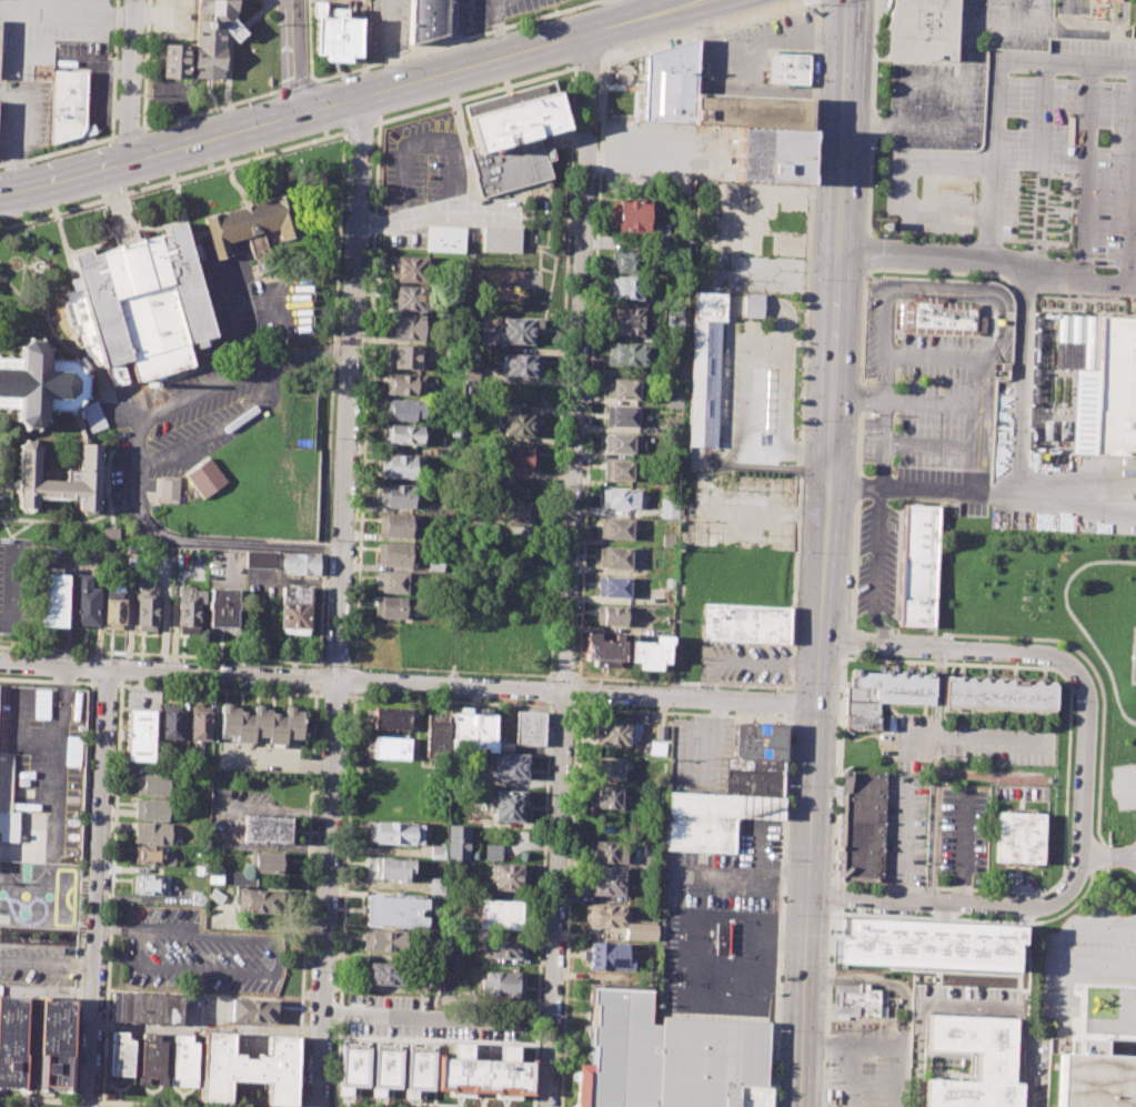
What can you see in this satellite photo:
building: (1117, 0)
street lamp: (875, 6)
parking lot: (496, 11)
road: (616, 11)
road: (68, 14)
building: (425, 19)
street lamp: (530, 23)
parking lot: (386, 27)
street lamp: (694, 27)
road: (701, 29)
building: (922, 29)
road: (1021, 29)
parking lot: (44, 32)
street lamp: (721, 33)
building: (212, 36)
road: (453, 36)
building: (336, 37)
road: (310, 39)
street lamp: (874, 39)
road: (455, 40)
road: (390, 43)
road: (754, 44)
road: (14, 48)
road: (531, 48)
road: (296, 56)
building: (174, 61)
road: (946, 61)
road: (587, 62)
road: (145, 64)
street lamp: (380, 66)
building: (784, 67)
road: (120, 68)
street lamp: (600, 68)
road: (114, 69)
street lamp: (543, 70)
street lamp: (876, 74)
parking lot: (88, 76)
parking lot: (963, 76)
road: (104, 79)
road: (133, 80)
street lamp: (278, 82)
road: (911, 82)
building: (668, 83)
road: (294, 84)
road: (750, 88)
street lamp: (887, 89)
road: (997, 89)
road: (473, 94)
street lamp: (247, 102)
building: (68, 105)
road: (329, 105)
street lamp: (913, 105)
street lamp: (947, 107)
road: (209, 110)
street lamp: (876, 110)
building: (748, 111)
street lamp: (391, 112)
road: (872, 113)
parking lot: (24, 115)
street lamp: (139, 115)
road: (962, 124)
road: (359, 128)
road: (18, 132)
road: (129, 132)
building: (513, 135)
street lamp: (105, 142)
street lamp: (345, 142)
street lamp: (869, 149)
street lamp: (259, 150)
road: (59, 151)
building: (767, 153)
road: (149, 154)
road: (1037, 170)
parking lot: (1062, 170)
road: (1086, 171)
road: (172, 180)
road: (173, 182)
parking lot: (440, 182)
road: (899, 185)
street lamp: (808, 188)
street lamp: (118, 189)
road: (469, 193)
road: (114, 198)
road: (1134, 210)
road: (54, 215)
building: (634, 215)
road: (120, 218)
road: (170, 223)
building: (252, 223)
road: (0, 228)
street lamp: (879, 235)
street lamp: (926, 235)
building: (444, 239)
building: (500, 239)
road: (127, 242)
road: (80, 249)
road: (867, 250)
road: (988, 255)
building: (630, 261)
building: (411, 269)
street lamp: (879, 275)
street lamp: (806, 279)
street lamp: (864, 282)
street lamp: (869, 284)
building: (629, 286)
road: (949, 294)
building: (409, 299)
road: (11, 302)
building: (139, 305)
building: (752, 306)
building: (942, 315)
road: (710, 316)
building: (676, 318)
building: (627, 321)
building: (406, 326)
building: (511, 331)
road: (71, 351)
building: (627, 354)
road: (931, 354)
building: (406, 355)
building: (86, 362)
building: (521, 364)
road: (592, 368)
building: (707, 368)
road: (562, 371)
building: (674, 371)
road: (885, 374)
parking lot: (207, 378)
street lamp: (934, 380)
street lamp: (864, 381)
building: (40, 383)
chimney: (151, 384)
building: (405, 385)
building: (624, 388)
building: (1120, 388)
road: (366, 394)
road: (856, 395)
road: (331, 397)
building: (673, 400)
road: (928, 401)
building: (403, 410)
building: (622, 415)
building: (89, 417)
street lamp: (801, 420)
building: (515, 424)
building: (672, 425)
road: (972, 425)
road: (210, 431)
building: (406, 434)
building: (621, 442)
road: (882, 442)
road: (926, 443)
road: (798, 451)
building: (516, 457)
road: (132, 463)
road: (8, 465)
building: (404, 466)
building: (619, 470)
building: (204, 477)
building: (59, 480)
road: (1016, 484)
building: (168, 489)
building: (399, 495)
building: (620, 499)
building: (666, 506)
building: (514, 511)
road: (100, 515)
road: (1074, 515)
road: (0, 517)
road: (2, 523)
building: (395, 525)
road: (18, 529)
building: (617, 529)
building: (110, 532)
building: (667, 541)
road: (9, 543)
railway: (803, 553)
road: (821, 553)
railway: (841, 553)
building: (396, 554)
building: (620, 558)
building: (260, 560)
building: (300, 563)
building: (921, 566)
road: (570, 568)
road: (877, 568)
building: (393, 582)
parking lot: (14, 584)
building: (614, 586)
road: (11, 588)
building: (52, 598)
building: (84, 601)
road: (340, 602)
building: (145, 605)
building: (113, 607)
building: (391, 607)
building: (295, 610)
building: (189, 611)
building: (223, 611)
building: (613, 616)
road: (1075, 621)
building: (746, 625)
road: (887, 635)
road: (847, 643)
road: (938, 647)
building: (605, 650)
building: (651, 653)
road: (161, 654)
road: (745, 657)
road: (1129, 658)
parking lot: (744, 660)
road: (336, 663)
road: (319, 664)
road: (53, 665)
road: (451, 670)
road: (564, 675)
road: (316, 678)
road: (353, 678)
road: (580, 678)
road: (47, 680)
road: (104, 682)
road: (461, 686)
road: (219, 688)
road: (549, 690)
building: (887, 691)
road: (577, 693)
road: (334, 694)
building: (1001, 696)
road: (449, 701)
road: (790, 702)
building: (41, 704)
road: (563, 706)
road: (682, 713)
building: (391, 719)
building: (170, 722)
building: (858, 722)
building: (199, 723)
building: (259, 724)
road: (57, 725)
building: (474, 728)
building: (530, 728)
building: (659, 732)
building: (617, 733)
building: (139, 734)
building: (435, 736)
road: (698, 739)
parking lot: (966, 741)
building: (762, 743)
building: (391, 747)
building: (72, 751)
road: (1083, 751)
parking lot: (700, 753)
parking lot: (47, 758)
building: (511, 765)
road: (934, 765)
building: (612, 769)
road: (838, 771)
building: (755, 777)
road: (1067, 781)
building: (152, 784)
parking lot: (1123, 786)
road: (1124, 787)
building: (606, 797)
building: (509, 805)
building: (726, 806)
building: (152, 809)
building: (9, 825)
building: (861, 827)
building: (265, 828)
parking lot: (962, 828)
parking lot: (903, 829)
building: (153, 833)
building: (395, 833)
building: (701, 834)
building: (1019, 837)
building: (459, 842)
road: (903, 843)
building: (438, 851)
building: (606, 851)
road: (963, 851)
building: (493, 852)
road: (1109, 855)
building: (152, 856)
road: (543, 857)
road: (1097, 857)
building: (269, 863)
building: (388, 868)
parking lot: (730, 873)
building: (509, 877)
building: (215, 879)
building: (606, 880)
road: (42, 882)
building: (150, 884)
building: (436, 885)
road: (98, 887)
road: (81, 894)
road: (111, 895)
building: (217, 895)
building: (198, 897)
road: (834, 897)
building: (254, 899)
road: (305, 899)
road: (343, 899)
road: (958, 903)
road: (567, 906)
building: (394, 910)
road: (781, 912)
building: (500, 916)
building: (604, 916)
road: (972, 918)
parking lot: (39, 922)
road: (49, 923)
road: (115, 928)
building: (641, 932)
building: (723, 938)
road: (1066, 940)
building: (385, 942)
building: (502, 947)
building: (926, 947)
parking lot: (198, 954)
parking lot: (1087, 955)
building: (609, 957)
building: (451, 958)
parking lot: (718, 962)
road: (48, 964)
road: (274, 973)
building: (388, 974)
road: (1106, 982)
building: (504, 984)
road: (881, 984)
road: (47, 993)
building: (859, 1003)
road: (967, 1004)
building: (144, 1008)
road: (830, 1009)
building: (252, 1010)
road: (418, 1017)
parking lot: (420, 1020)
building: (52, 1037)
road: (814, 1039)
road: (864, 1041)
building: (119, 1056)
building: (151, 1058)
building: (671, 1058)
building: (183, 1060)
building: (353, 1064)
building: (385, 1064)
building: (995, 1065)
building: (419, 1066)
parking lot: (866, 1067)
building: (249, 1069)
building: (485, 1071)
road: (851, 1074)
road: (901, 1075)
building: (1096, 1077)
road: (38, 1100)
road: (88, 1103)
road: (132, 1105)

